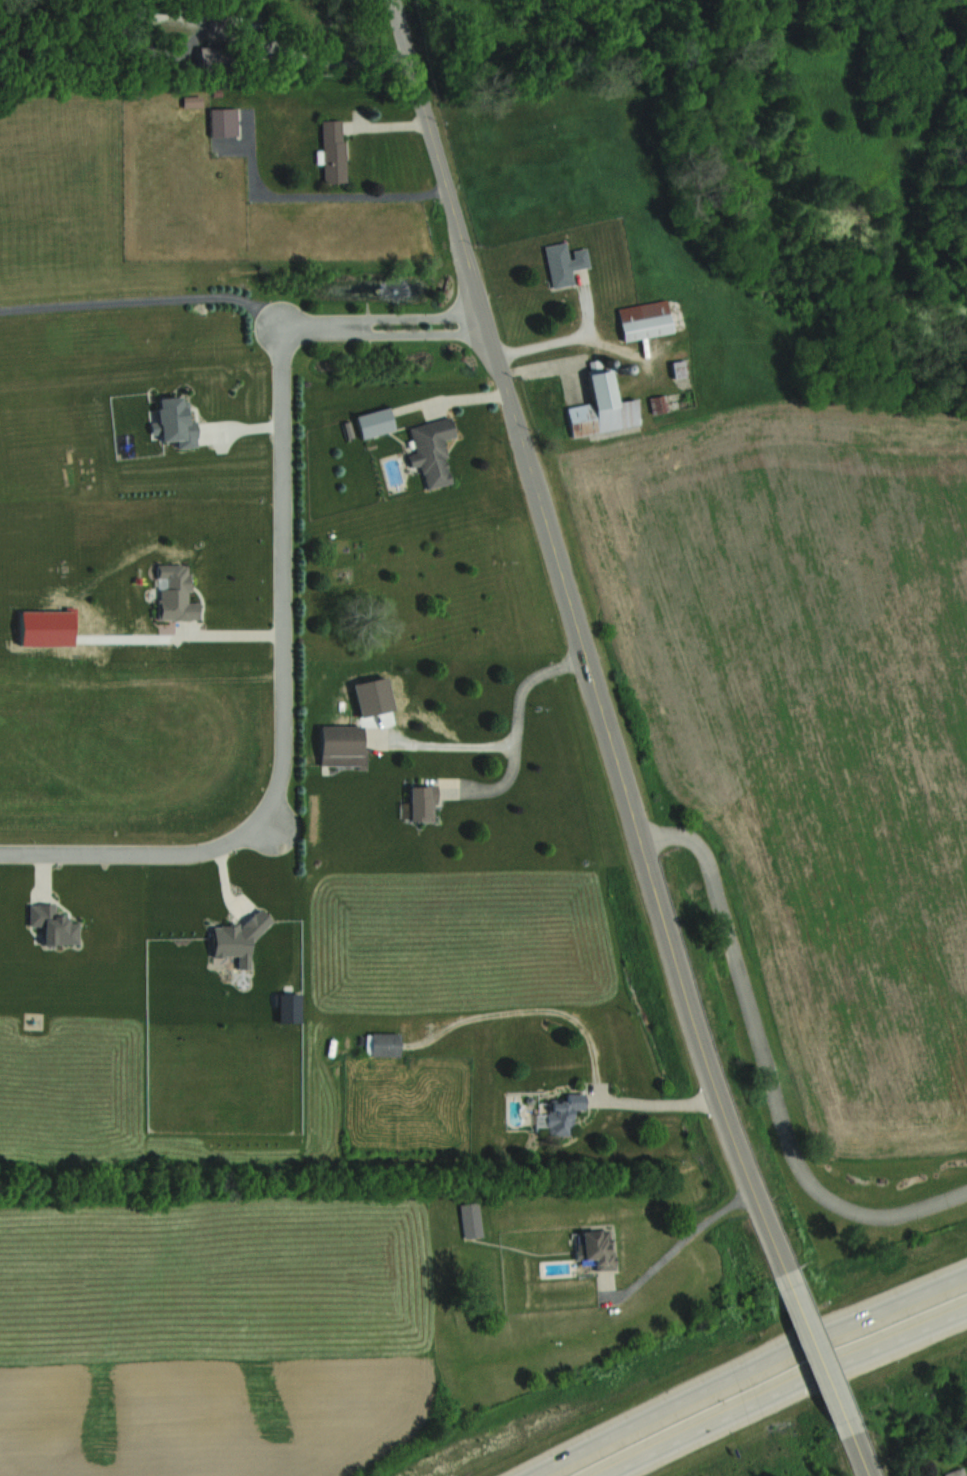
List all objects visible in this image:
building: (324, 24)
building: (216, 51)
building: (222, 120)
building: (332, 151)
road: (321, 200)
building: (563, 263)
road: (146, 296)
road: (418, 318)
building: (645, 319)
road: (420, 334)
road: (571, 340)
building: (658, 403)
building: (602, 405)
building: (374, 422)
building: (431, 450)
building: (175, 594)
road: (231, 636)
road: (580, 639)
road: (284, 676)
road: (512, 737)
building: (350, 757)
building: (421, 803)
building: (52, 924)
building: (381, 1043)
road: (764, 1071)
road: (657, 1103)
building: (559, 1115)
building: (470, 1220)
road: (680, 1243)
building: (595, 1247)
road: (823, 1355)
road: (748, 1371)
road: (786, 1391)
road: (864, 1457)
building: (955, 1472)

